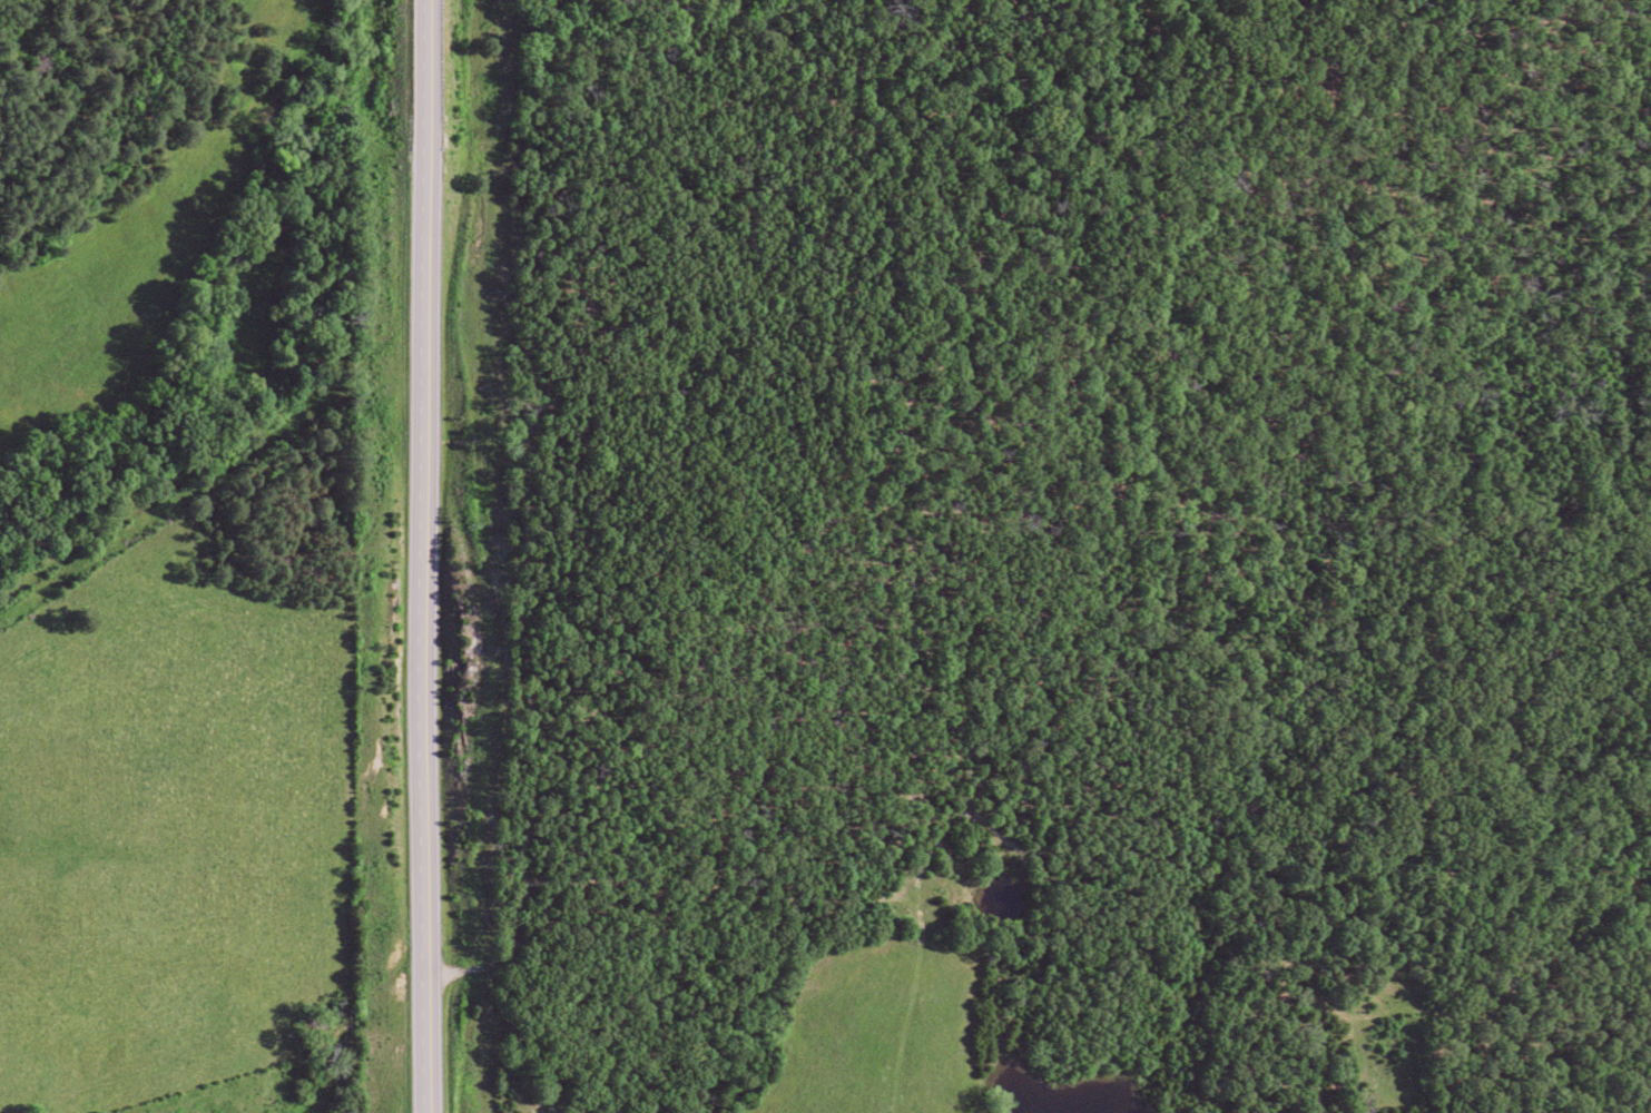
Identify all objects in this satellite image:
road: (423, 556)

